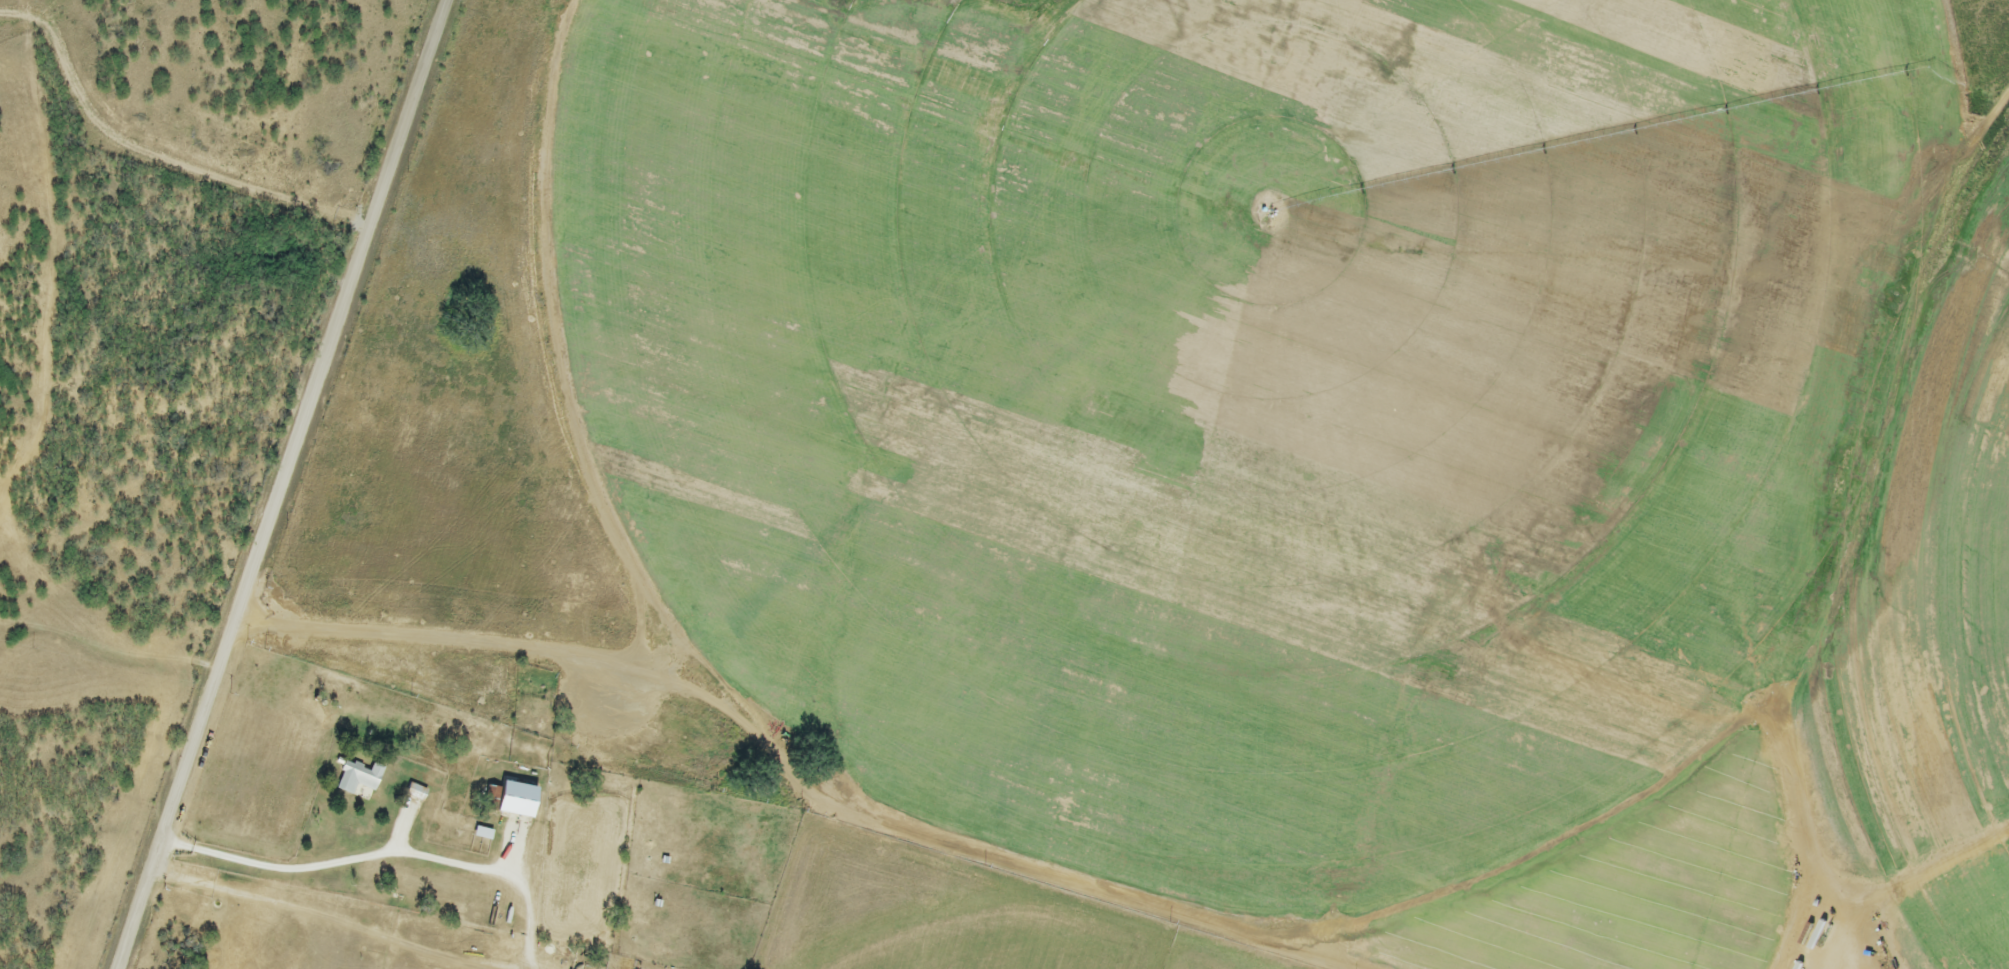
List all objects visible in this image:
road: (286, 485)
road: (799, 775)
building: (358, 778)
building: (510, 797)
building: (481, 831)
road: (388, 851)
road: (332, 916)

